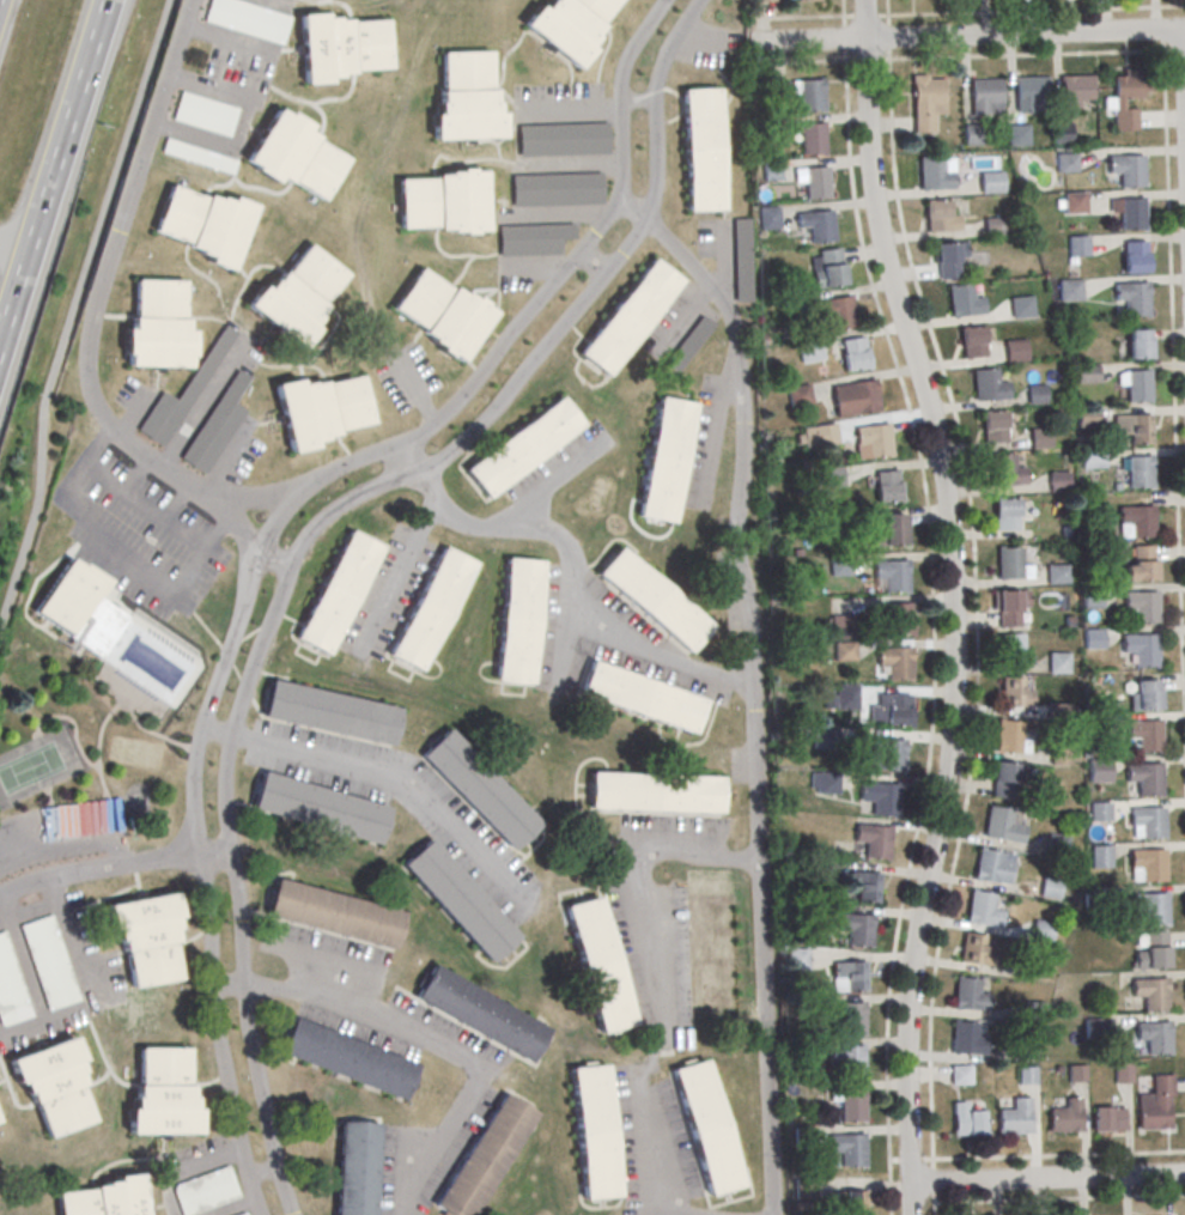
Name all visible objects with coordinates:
building: (806, 1)
road: (966, 11)
building: (249, 18)
building: (567, 25)
road: (965, 35)
road: (247, 45)
building: (340, 45)
parking lot: (706, 45)
road: (1037, 54)
road: (1184, 59)
parking lot: (227, 83)
building: (1074, 92)
building: (1029, 96)
building: (467, 98)
building: (812, 98)
building: (984, 98)
building: (1125, 98)
building: (928, 99)
road: (640, 105)
road: (573, 107)
building: (205, 113)
road: (245, 121)
building: (1062, 134)
building: (1016, 135)
building: (971, 136)
building: (812, 140)
building: (563, 141)
building: (701, 148)
building: (294, 153)
building: (197, 158)
building: (1065, 164)
road: (572, 168)
building: (771, 169)
building: (1129, 169)
road: (53, 171)
building: (936, 172)
parking lot: (554, 178)
building: (815, 184)
building: (990, 184)
building: (555, 192)
building: (442, 201)
building: (1074, 205)
building: (1130, 211)
road: (559, 215)
building: (938, 215)
building: (770, 217)
building: (202, 221)
building: (818, 224)
building: (993, 224)
building: (531, 241)
road: (14, 244)
building: (1077, 248)
parking lot: (727, 254)
building: (1135, 256)
building: (948, 259)
building: (740, 262)
building: (827, 267)
road: (725, 268)
road: (534, 269)
building: (1069, 291)
building: (299, 293)
building: (1134, 297)
building: (962, 299)
road: (73, 306)
building: (1022, 306)
building: (440, 312)
building: (837, 312)
building: (661, 324)
building: (158, 326)
road: (91, 327)
parking lot: (677, 330)
building: (973, 341)
building: (1138, 344)
building: (688, 345)
building: (1015, 350)
building: (808, 352)
building: (853, 353)
building: (1086, 375)
parking lot: (405, 379)
building: (1136, 383)
building: (987, 384)
road: (414, 390)
building: (1037, 393)
building: (182, 395)
building: (798, 396)
road: (63, 397)
building: (855, 397)
road: (208, 406)
building: (322, 408)
parking lot: (202, 412)
road: (1173, 413)
building: (1087, 419)
building: (993, 425)
building: (1137, 427)
building: (215, 429)
road: (913, 430)
building: (820, 435)
building: (1040, 439)
building: (874, 442)
building: (522, 445)
parking lot: (704, 446)
building: (697, 449)
road: (412, 460)
building: (1090, 461)
parking lot: (560, 467)
building: (1005, 470)
building: (1140, 470)
road: (138, 478)
building: (831, 478)
building: (1058, 484)
building: (888, 485)
road: (552, 488)
road: (249, 499)
road: (178, 508)
road: (146, 511)
building: (1007, 514)
building: (1138, 520)
road: (273, 530)
building: (888, 530)
road: (314, 534)
parking lot: (139, 535)
road: (558, 543)
road: (121, 555)
road: (405, 563)
building: (1143, 563)
building: (1011, 564)
building: (839, 567)
building: (1057, 576)
building: (892, 577)
road: (974, 577)
building: (338, 591)
parking lot: (729, 591)
building: (68, 595)
parking lot: (387, 595)
building: (1092, 599)
building: (609, 602)
road: (952, 605)
building: (1143, 605)
building: (1009, 606)
building: (430, 608)
building: (894, 619)
building: (546, 624)
building: (98, 626)
building: (840, 627)
building: (1092, 639)
parking lot: (607, 640)
building: (1142, 648)
road: (657, 651)
building: (843, 652)
building: (1011, 652)
building: (150, 657)
building: (1058, 662)
building: (895, 664)
building: (624, 669)
road: (750, 686)
building: (1014, 694)
building: (845, 699)
building: (1143, 699)
building: (330, 711)
building: (888, 712)
building: (1096, 728)
road: (218, 735)
building: (1145, 736)
building: (822, 739)
building: (1009, 741)
building: (329, 743)
building: (886, 754)
parking lot: (736, 766)
building: (1099, 770)
road: (375, 774)
building: (1144, 779)
building: (1004, 780)
building: (330, 782)
building: (826, 784)
building: (655, 791)
building: (879, 800)
parking lot: (400, 803)
building: (454, 807)
building: (318, 808)
building: (1099, 813)
building: (668, 824)
building: (1148, 825)
building: (718, 826)
building: (1001, 828)
parking lot: (670, 832)
parking lot: (59, 834)
road: (71, 834)
building: (871, 843)
building: (1056, 848)
building: (1100, 857)
road: (113, 864)
building: (1149, 867)
building: (989, 870)
building: (864, 886)
building: (1050, 889)
building: (458, 899)
building: (1093, 899)
building: (676, 904)
building: (1150, 909)
building: (982, 912)
building: (333, 913)
building: (856, 930)
building: (1040, 932)
building: (620, 935)
building: (147, 940)
building: (711, 944)
building: (974, 953)
building: (1151, 954)
parking lot: (655, 958)
road: (20, 960)
building: (48, 964)
parking lot: (51, 971)
building: (1037, 971)
building: (849, 974)
building: (1102, 982)
road: (229, 986)
building: (10, 990)
road: (92, 990)
road: (662, 990)
building: (1150, 995)
building: (968, 998)
building: (682, 1001)
building: (480, 1013)
building: (1032, 1013)
building: (849, 1020)
building: (1096, 1031)
road: (886, 1038)
building: (1154, 1039)
building: (966, 1041)
road: (440, 1045)
building: (1022, 1050)
building: (347, 1057)
building: (847, 1063)
building: (1122, 1074)
building: (1076, 1075)
building: (1025, 1077)
building: (53, 1083)
building: (162, 1093)
building: (849, 1106)
building: (1153, 1117)
building: (1108, 1118)
building: (1065, 1119)
building: (1014, 1120)
building: (0, 1122)
building: (966, 1124)
building: (698, 1129)
building: (591, 1131)
building: (846, 1152)
building: (484, 1156)
building: (355, 1167)
road: (188, 1170)
road: (263, 1173)
road: (1046, 1178)
parking lot: (201, 1179)
road: (932, 1181)
building: (205, 1192)
building: (104, 1198)
building: (852, 1202)
road: (235, 1207)
road: (932, 1209)
building: (243, 1214)

